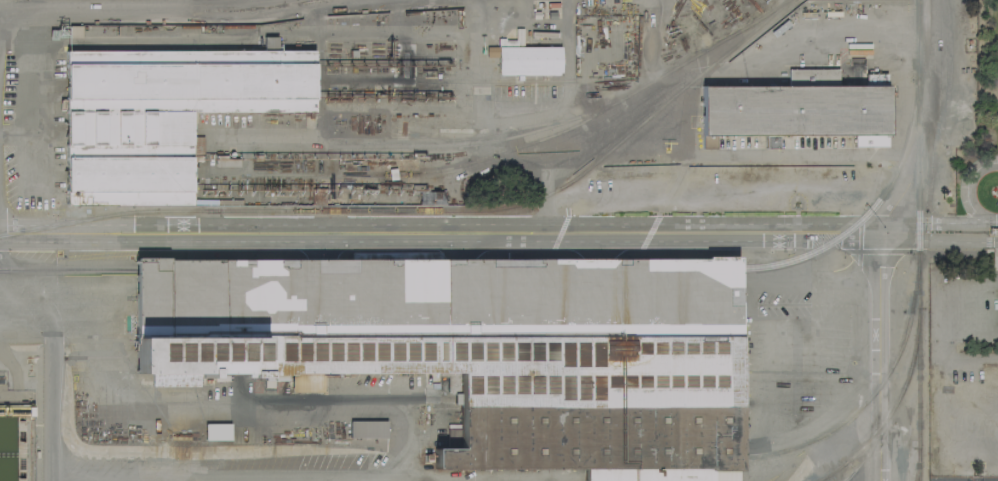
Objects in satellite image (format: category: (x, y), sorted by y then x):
road: (153, 8)
road: (0, 30)
building: (526, 59)
building: (795, 108)
road: (387, 112)
building: (162, 114)
railway: (462, 135)
railway: (537, 139)
railway: (475, 142)
railway: (428, 212)
road: (996, 221)
road: (537, 225)
building: (992, 228)
road: (40, 231)
road: (881, 233)
road: (538, 240)
railway: (917, 240)
railway: (514, 269)
building: (484, 347)
building: (9, 359)
road: (54, 363)
railway: (861, 405)
railway: (892, 408)
building: (366, 428)
road: (404, 428)
building: (216, 431)
railway: (916, 464)
railway: (834, 471)

